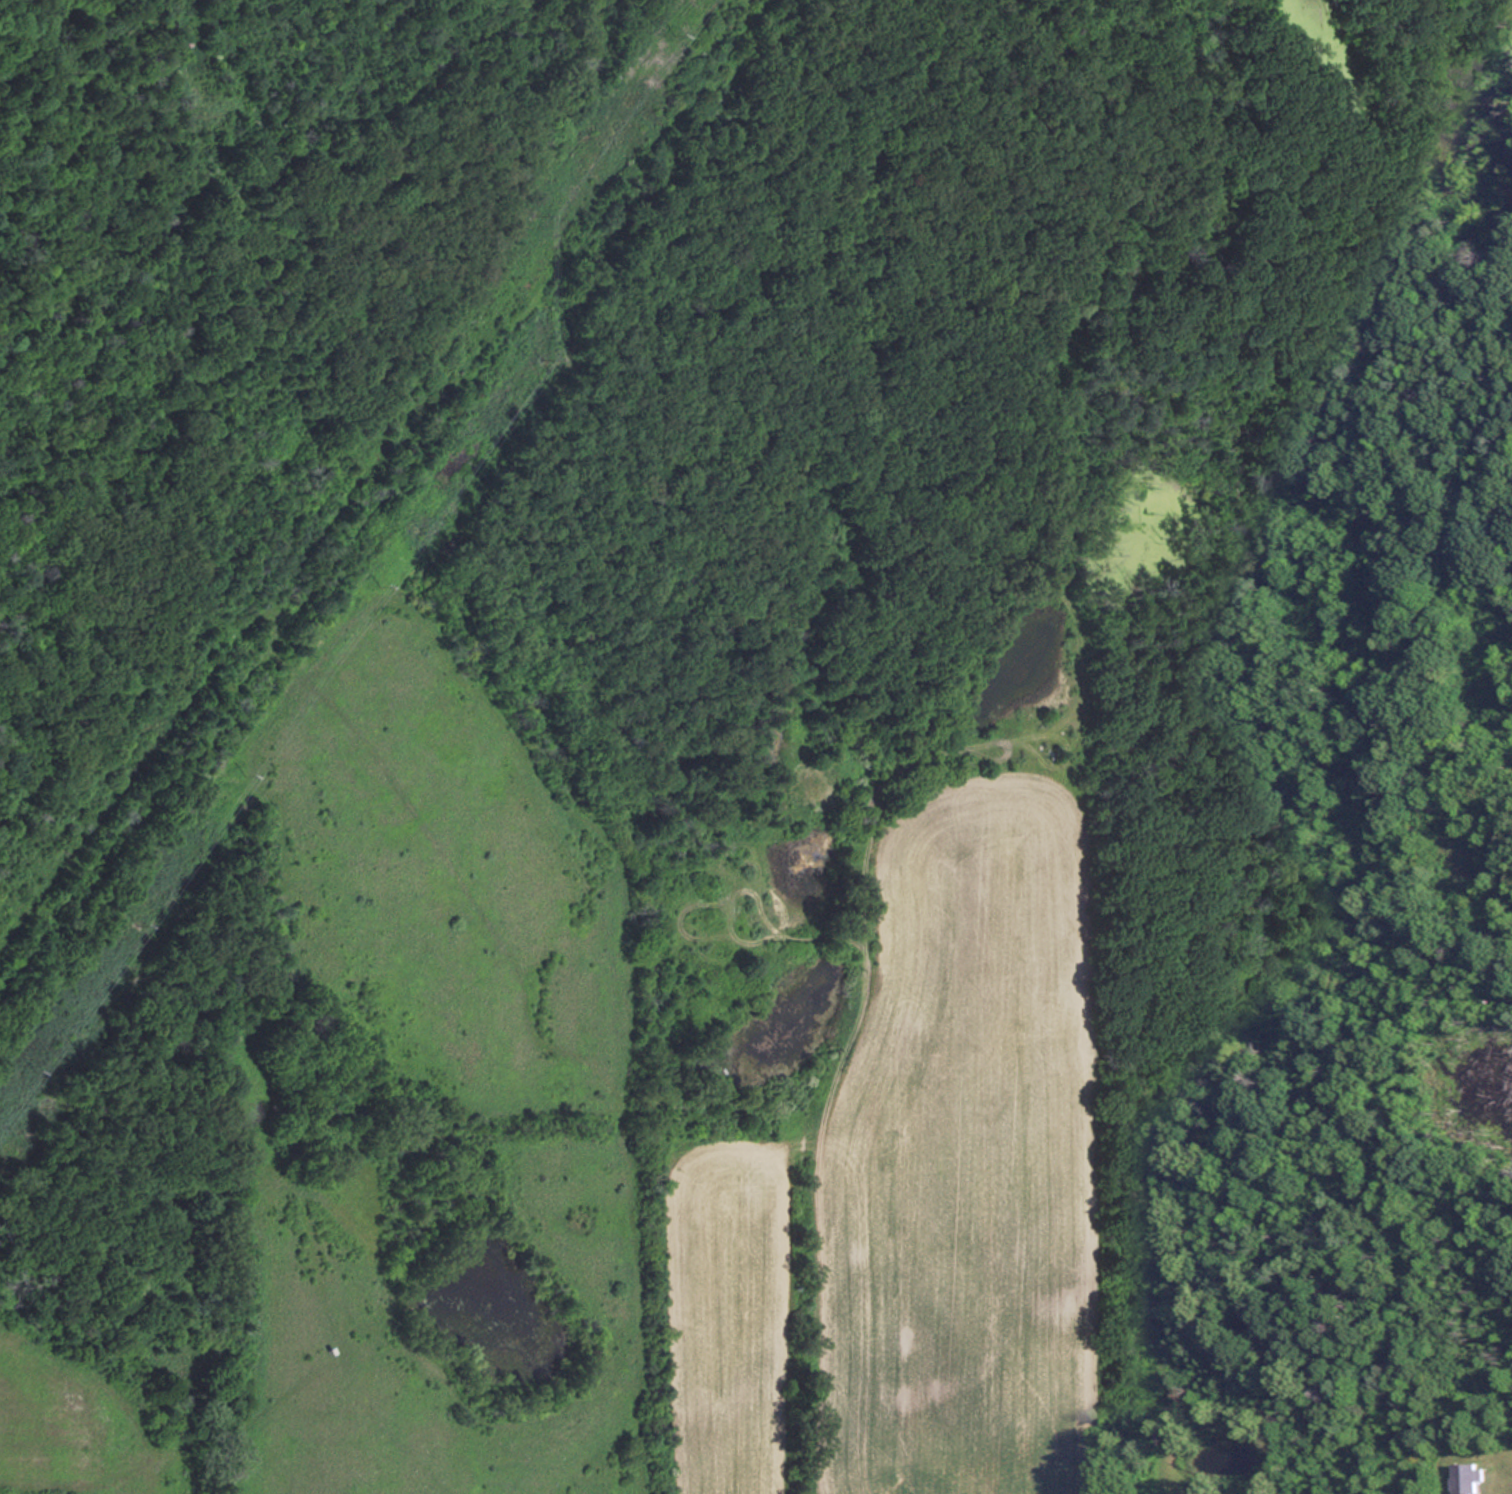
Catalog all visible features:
building: (1463, 1476)

